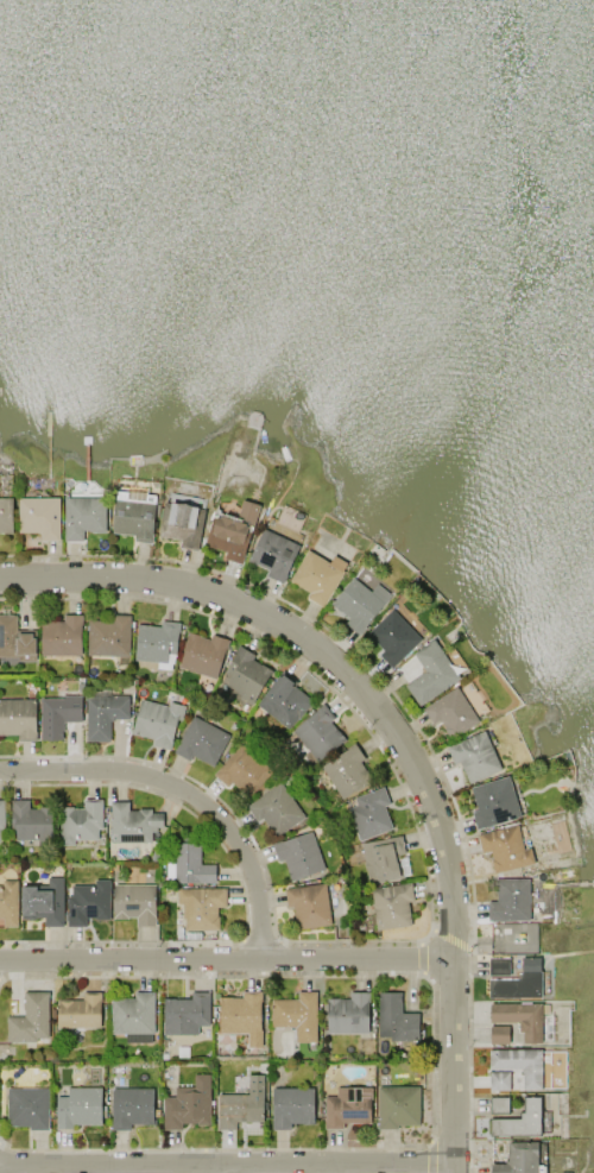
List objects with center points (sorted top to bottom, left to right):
building: (134, 515)
building: (6, 516)
building: (39, 516)
building: (83, 516)
building: (182, 523)
building: (232, 530)
building: (273, 554)
building: (317, 575)
building: (359, 603)
building: (396, 635)
building: (61, 636)
building: (109, 636)
building: (15, 639)
building: (157, 643)
building: (202, 654)
building: (431, 673)
building: (245, 675)
building: (284, 700)
building: (451, 712)
building: (58, 714)
building: (105, 714)
building: (18, 718)
building: (157, 721)
building: (317, 732)
road: (399, 733)
building: (201, 740)
building: (474, 756)
building: (242, 769)
building: (347, 771)
road: (188, 795)
building: (494, 801)
building: (276, 809)
building: (369, 813)
building: (1, 820)
building: (31, 821)
building: (81, 821)
building: (132, 822)
building: (505, 847)
building: (299, 854)
building: (384, 859)
building: (191, 864)
building: (510, 900)
building: (8, 901)
building: (44, 901)
building: (88, 902)
building: (135, 902)
building: (309, 904)
building: (392, 904)
building: (201, 906)
building: (513, 938)
road: (227, 960)
building: (499, 965)
building: (519, 982)
building: (80, 1011)
building: (185, 1014)
building: (348, 1014)
building: (296, 1015)
building: (133, 1016)
building: (242, 1016)
building: (520, 1017)
building: (396, 1019)
building: (31, 1021)
building: (499, 1034)
building: (520, 1065)
building: (499, 1080)
building: (188, 1104)
building: (242, 1104)
building: (499, 1104)
building: (348, 1105)
building: (29, 1106)
building: (78, 1106)
building: (291, 1106)
building: (398, 1106)
building: (132, 1108)
building: (520, 1121)
building: (520, 1159)
road: (225, 1165)
road: (222, 1169)
building: (568, 1172)

